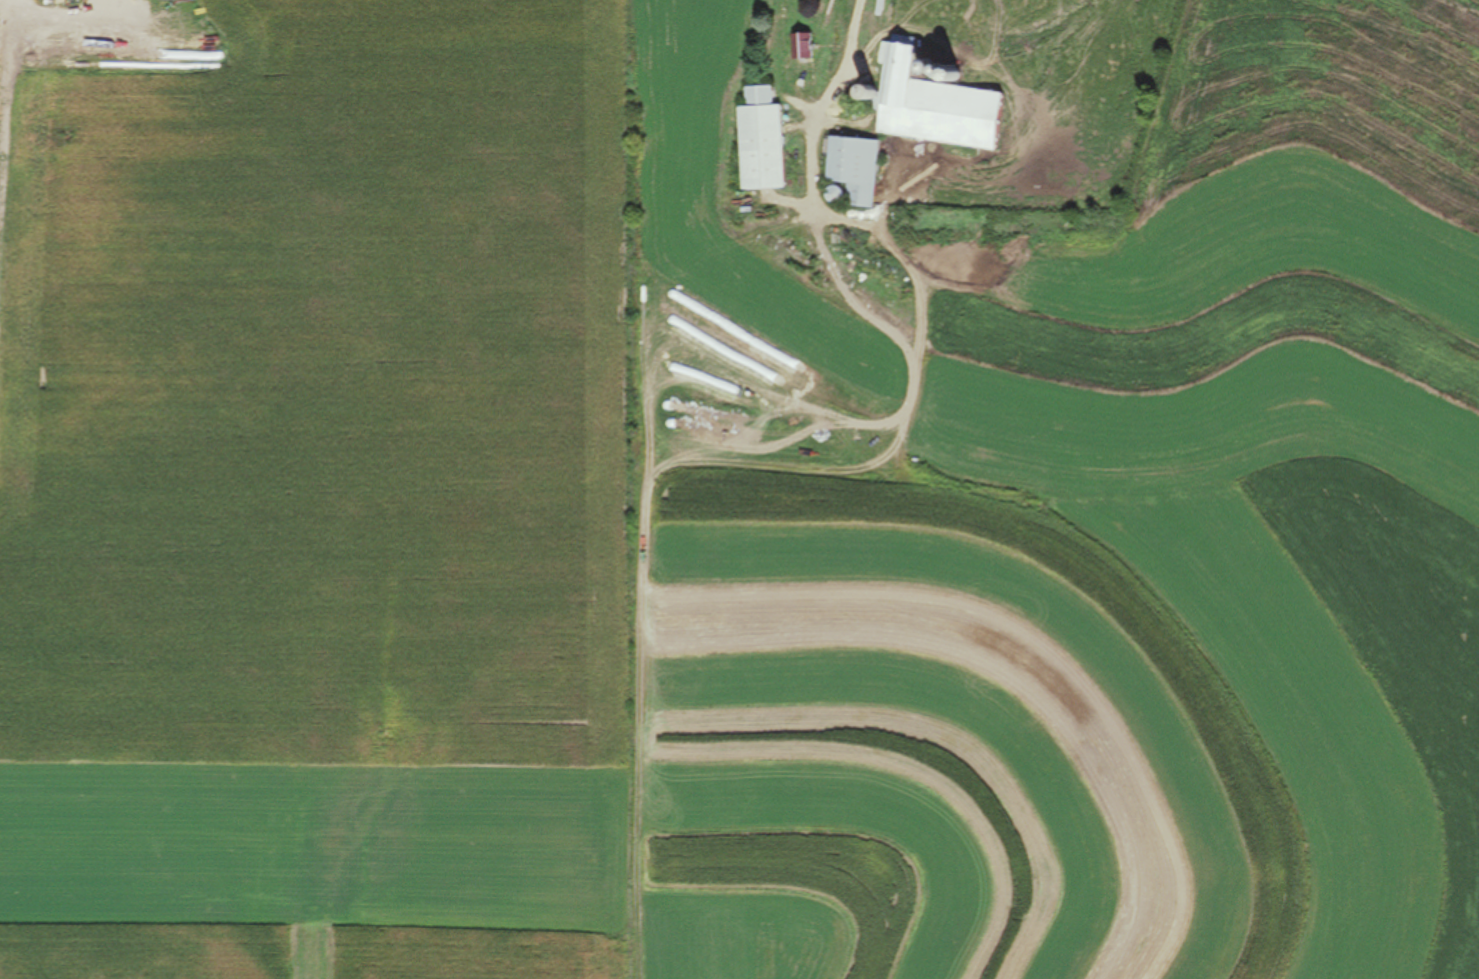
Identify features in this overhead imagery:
building: (799, 49)
building: (928, 102)
building: (757, 141)
building: (848, 172)

